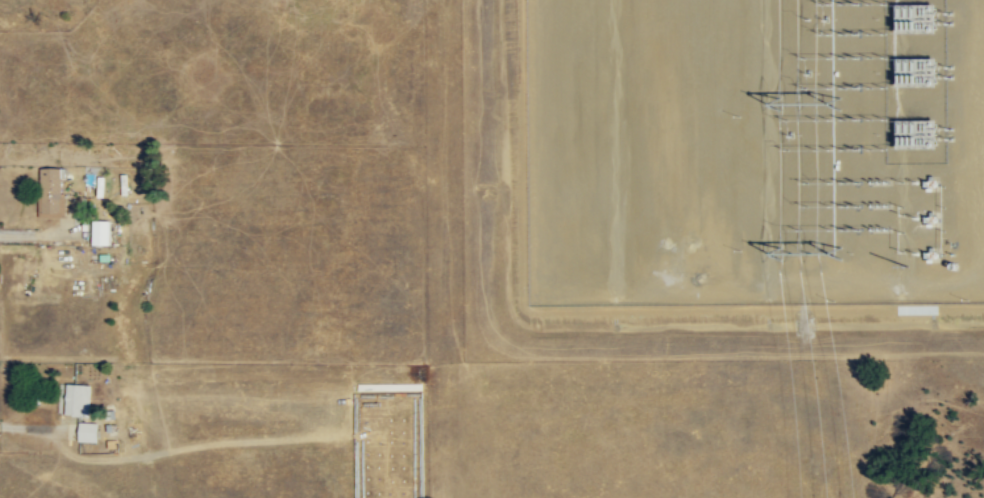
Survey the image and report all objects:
power substation: (750, 158)
building: (52, 191)
building: (102, 232)
building: (78, 399)
building: (88, 431)

